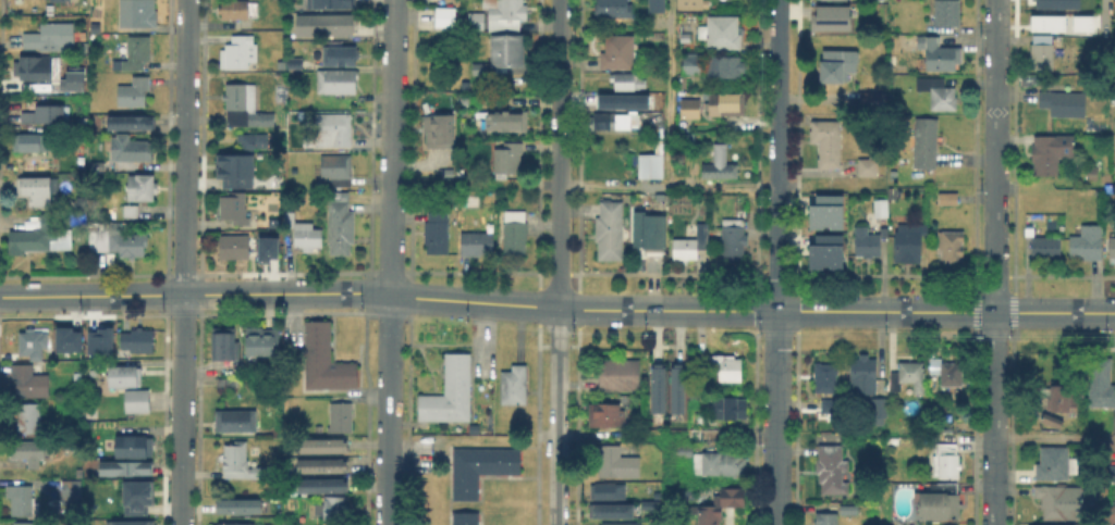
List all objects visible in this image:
building: (27, 0)
building: (60, 1)
building: (328, 2)
building: (1055, 3)
building: (688, 5)
building: (657, 7)
building: (504, 10)
building: (611, 10)
building: (241, 11)
building: (138, 14)
building: (945, 14)
building: (443, 16)
building: (829, 16)
road: (1103, 16)
building: (474, 22)
building: (1045, 22)
building: (1080, 22)
building: (324, 27)
building: (720, 34)
building: (52, 37)
building: (685, 39)
building: (1041, 52)
building: (136, 53)
building: (241, 53)
building: (617, 53)
building: (502, 54)
building: (936, 54)
building: (342, 58)
building: (292, 61)
building: (279, 63)
building: (835, 64)
building: (690, 65)
building: (724, 68)
building: (36, 70)
building: (477, 70)
building: (340, 83)
building: (623, 83)
building: (466, 85)
road: (669, 92)
building: (135, 93)
building: (936, 95)
building: (620, 100)
building: (874, 103)
building: (1064, 105)
building: (724, 107)
building: (245, 109)
building: (682, 112)
building: (48, 116)
building: (613, 122)
building: (134, 125)
building: (500, 125)
building: (333, 133)
building: (438, 139)
building: (255, 141)
building: (823, 141)
building: (32, 145)
building: (926, 145)
building: (133, 150)
building: (1049, 154)
building: (507, 159)
building: (715, 164)
building: (865, 165)
building: (648, 168)
building: (237, 172)
building: (336, 172)
road: (584, 186)
building: (264, 187)
building: (144, 190)
building: (38, 192)
building: (948, 199)
building: (880, 209)
building: (236, 211)
building: (824, 211)
building: (133, 213)
building: (293, 221)
building: (343, 230)
building: (437, 230)
building: (608, 230)
building: (513, 234)
building: (650, 235)
building: (46, 238)
building: (311, 238)
building: (732, 239)
building: (688, 242)
building: (123, 245)
building: (231, 245)
building: (475, 245)
building: (865, 245)
building: (1086, 245)
building: (906, 246)
building: (951, 247)
building: (1112, 247)
building: (266, 248)
building: (1045, 250)
building: (823, 251)
road: (183, 262)
road: (390, 262)
road: (560, 262)
road: (777, 262)
road: (994, 262)
road: (195, 295)
road: (583, 310)
road: (928, 312)
road: (1096, 313)
building: (65, 339)
building: (98, 339)
building: (135, 339)
building: (259, 340)
building: (35, 345)
building: (226, 347)
building: (321, 359)
building: (722, 368)
building: (124, 373)
building: (952, 374)
building: (863, 375)
building: (616, 376)
building: (909, 376)
building: (79, 377)
building: (825, 378)
building: (30, 383)
building: (229, 384)
building: (1100, 385)
building: (511, 387)
building: (657, 387)
building: (677, 387)
building: (449, 393)
building: (1062, 395)
building: (136, 400)
building: (831, 407)
building: (878, 409)
building: (727, 410)
building: (603, 418)
building: (343, 420)
building: (33, 421)
building: (1052, 421)
building: (238, 423)
road: (1054, 436)
building: (320, 446)
building: (136, 449)
building: (683, 451)
building: (30, 455)
building: (235, 460)
building: (947, 460)
building: (1056, 463)
building: (320, 464)
building: (615, 464)
building: (719, 464)
building: (125, 468)
building: (831, 470)
building: (479, 471)
building: (1111, 473)
road: (663, 478)
building: (320, 486)
building: (74, 490)
building: (604, 490)
building: (654, 493)
building: (135, 495)
building: (940, 499)
building: (1052, 500)
building: (23, 501)
building: (647, 503)
building: (237, 504)
building: (716, 504)
building: (333, 508)
building: (609, 509)
building: (849, 510)
building: (1112, 514)
building: (464, 518)
building: (826, 518)
building: (23, 523)
building: (130, 523)
building: (230, 523)
building: (617, 523)
building: (952, 523)
building: (1052, 524)

